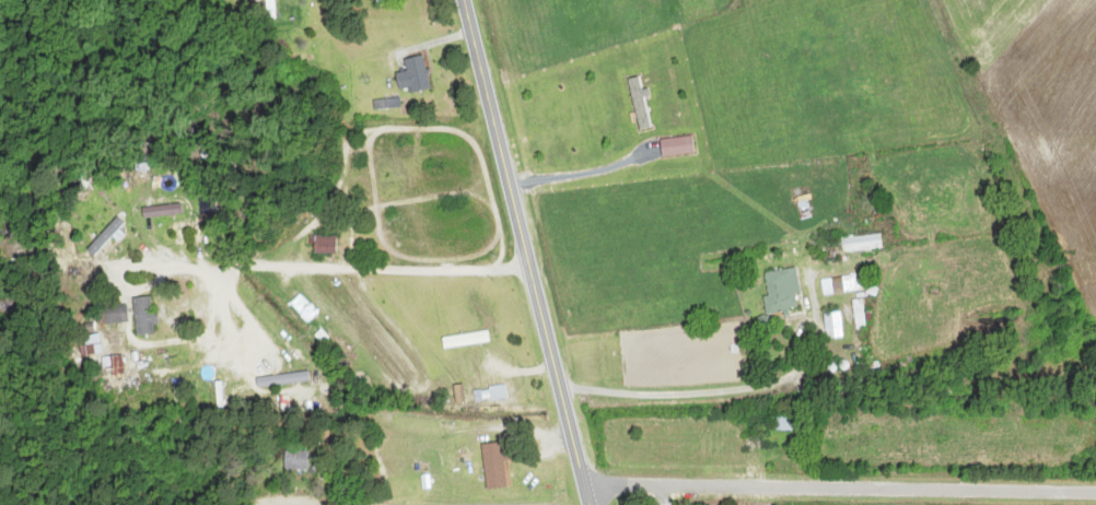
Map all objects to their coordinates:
building: (272, 9)
building: (413, 77)
building: (161, 212)
building: (862, 243)
building: (325, 244)
road: (525, 252)
building: (851, 283)
building: (781, 291)
building: (859, 314)
building: (116, 315)
building: (144, 317)
building: (833, 325)
building: (466, 340)
building: (285, 379)
building: (296, 460)
building: (494, 465)
road: (548, 478)
road: (840, 492)

